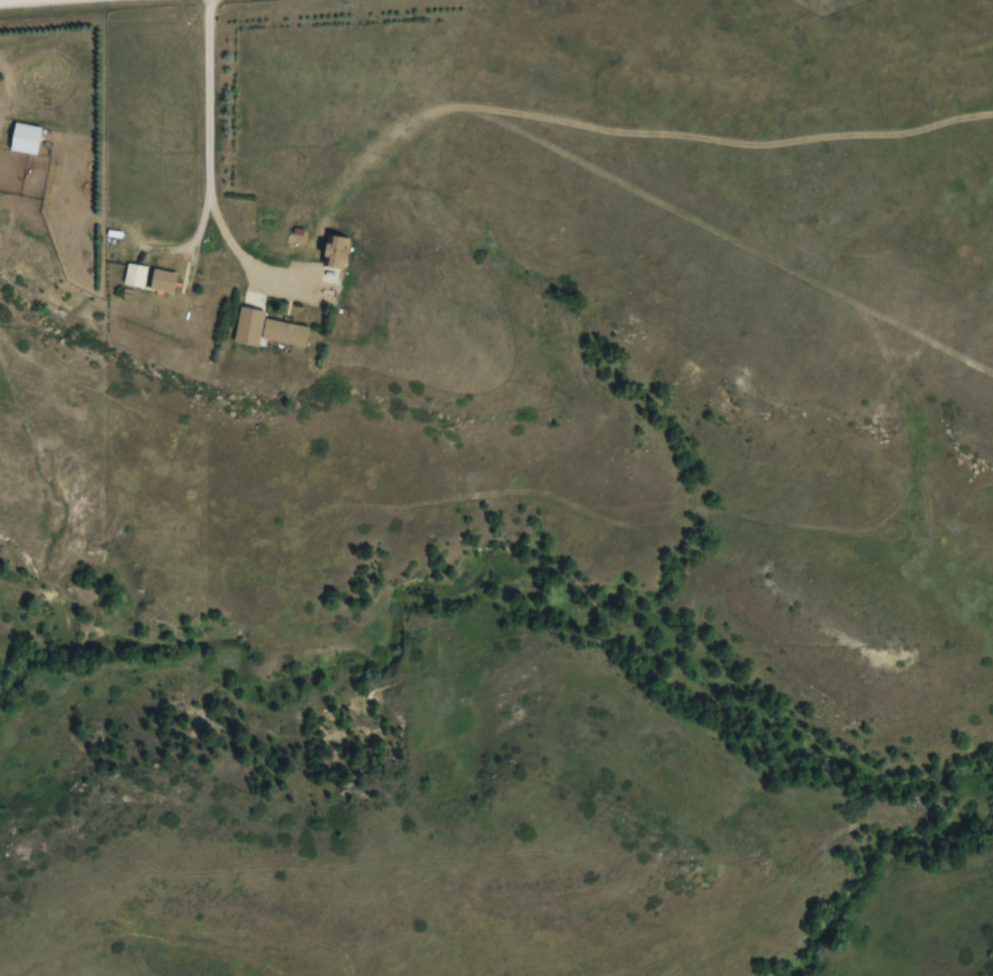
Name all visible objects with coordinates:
road: (19, 1)
road: (208, 138)
building: (336, 249)
building: (150, 278)
building: (264, 327)
building: (528, 589)

